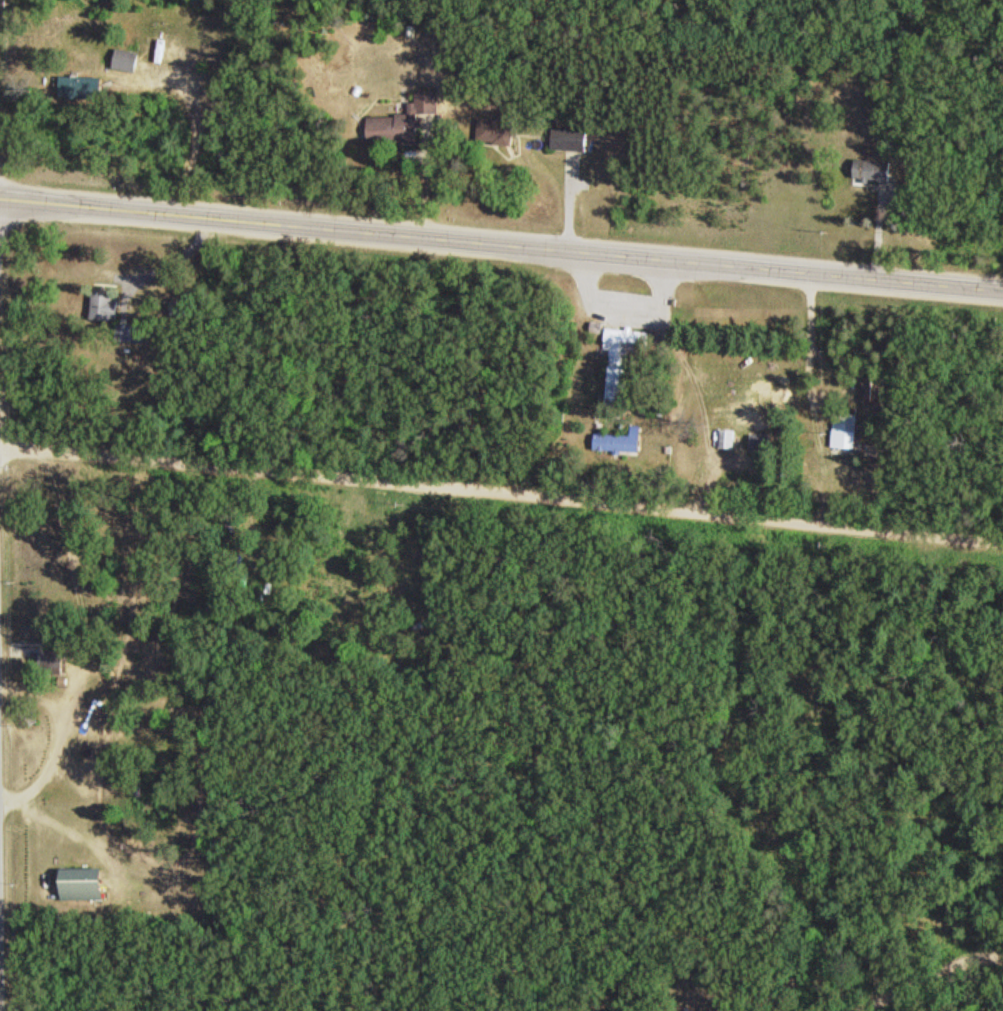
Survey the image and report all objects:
building: (128, 59)
building: (81, 87)
building: (410, 122)
building: (389, 128)
road: (195, 130)
road: (425, 182)
road: (570, 205)
road: (879, 233)
road: (501, 244)
building: (101, 305)
building: (624, 360)
building: (846, 429)
building: (728, 438)
building: (621, 440)
road: (501, 494)
road: (748, 802)
building: (82, 883)
road: (924, 973)

